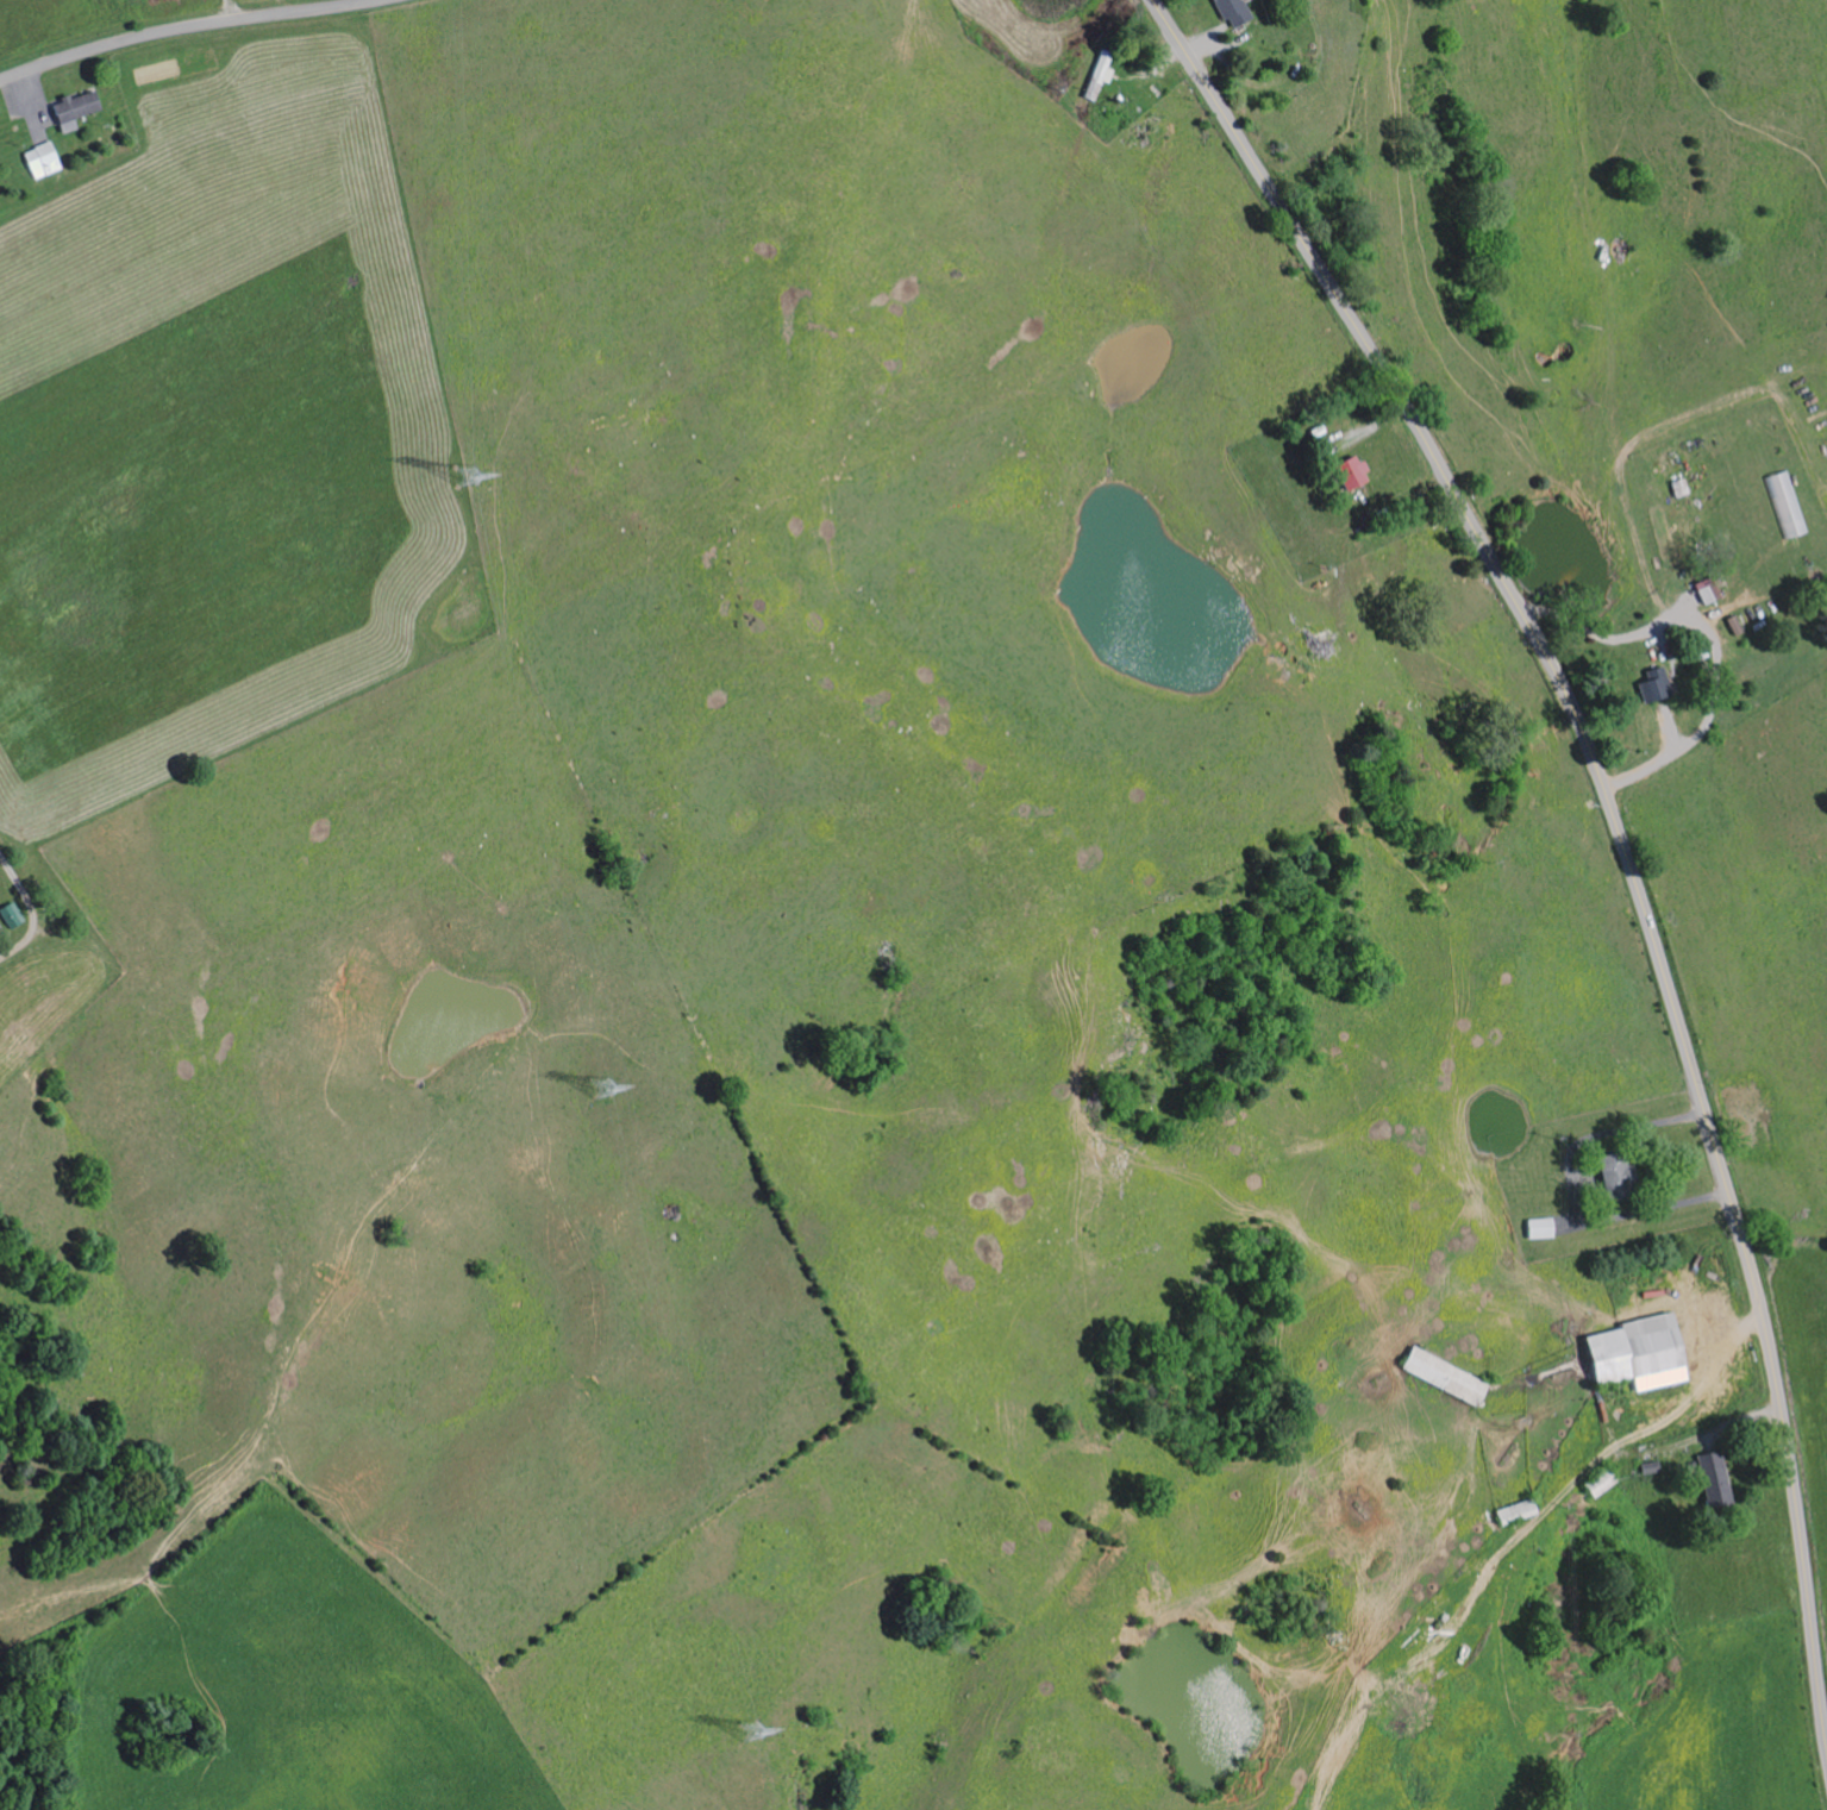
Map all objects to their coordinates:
building: (1228, 12)
road: (179, 27)
building: (46, 159)
building: (1346, 470)
power tower: (465, 475)
building: (1783, 502)
building: (1703, 588)
building: (1729, 624)
building: (1650, 683)
road: (1618, 826)
building: (7, 913)
power tower: (603, 1085)
building: (1603, 1173)
building: (1535, 1227)
building: (1631, 1352)
building: (1437, 1374)
building: (1708, 1477)

